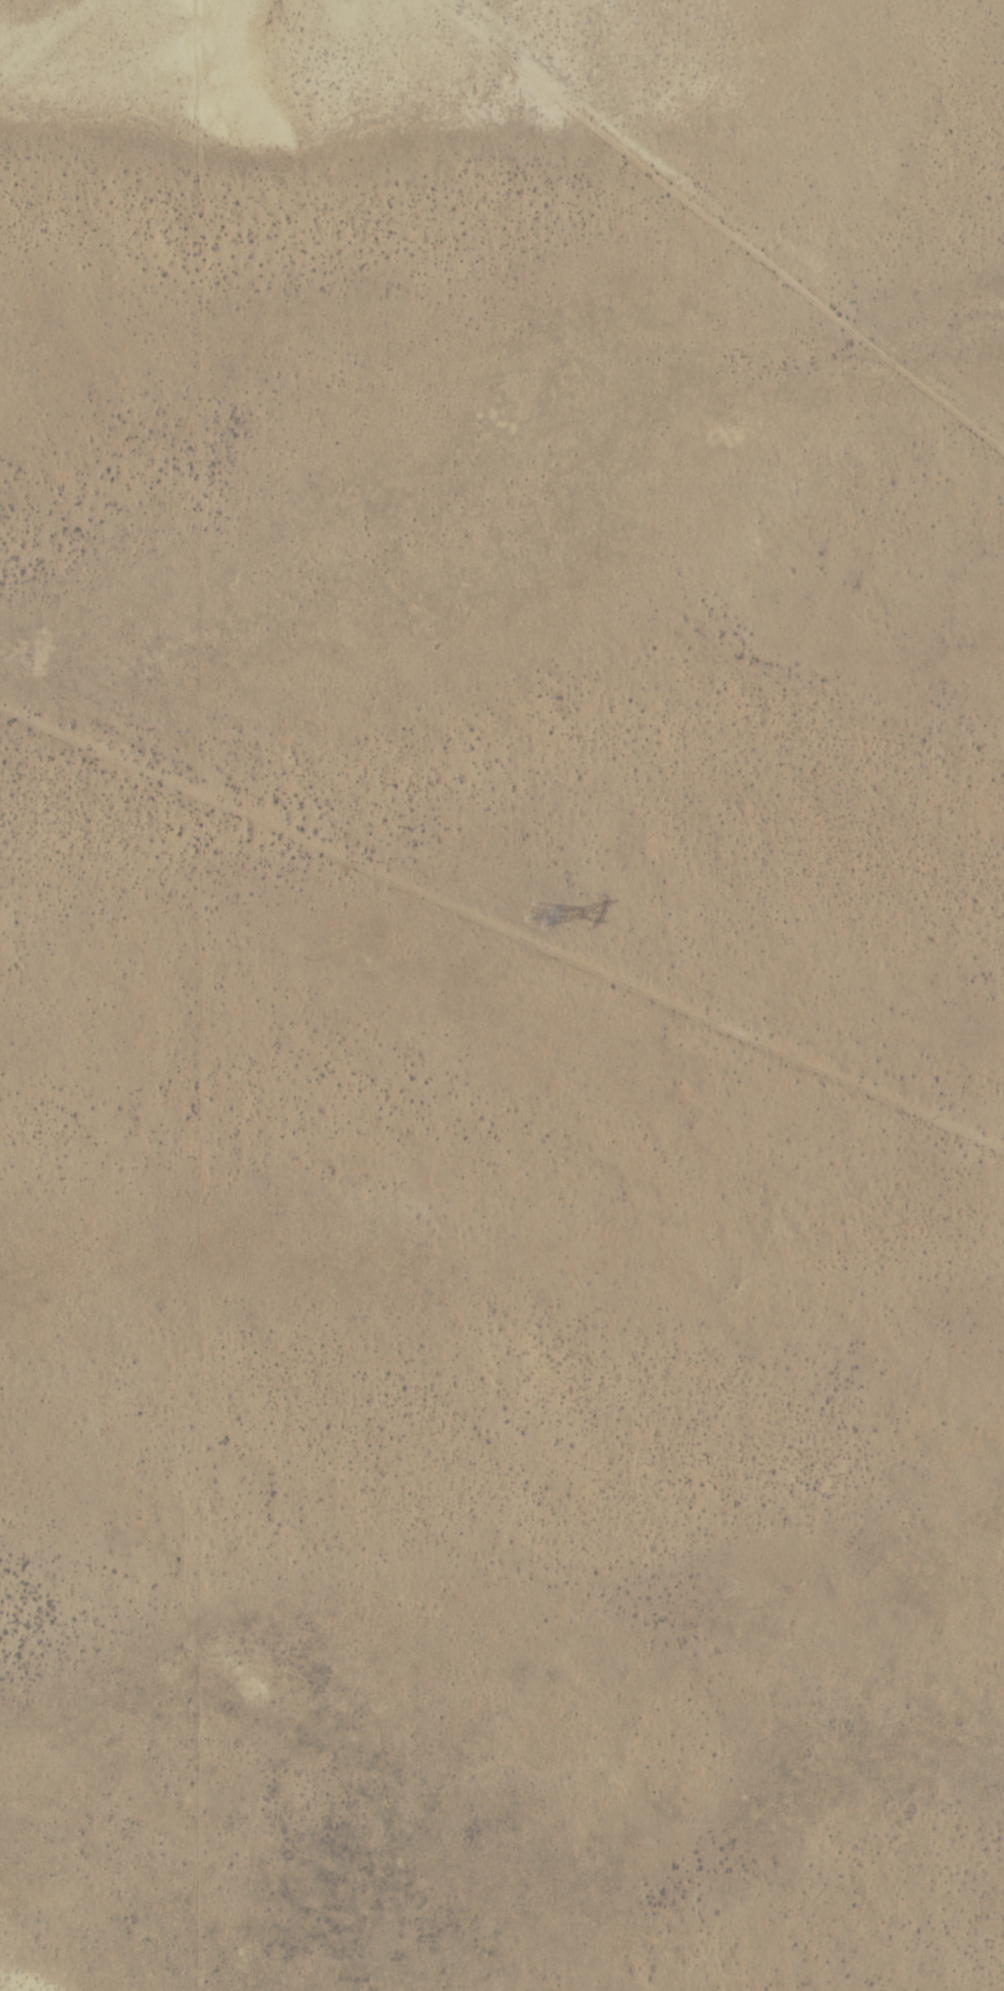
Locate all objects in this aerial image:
power tower: (537, 914)

